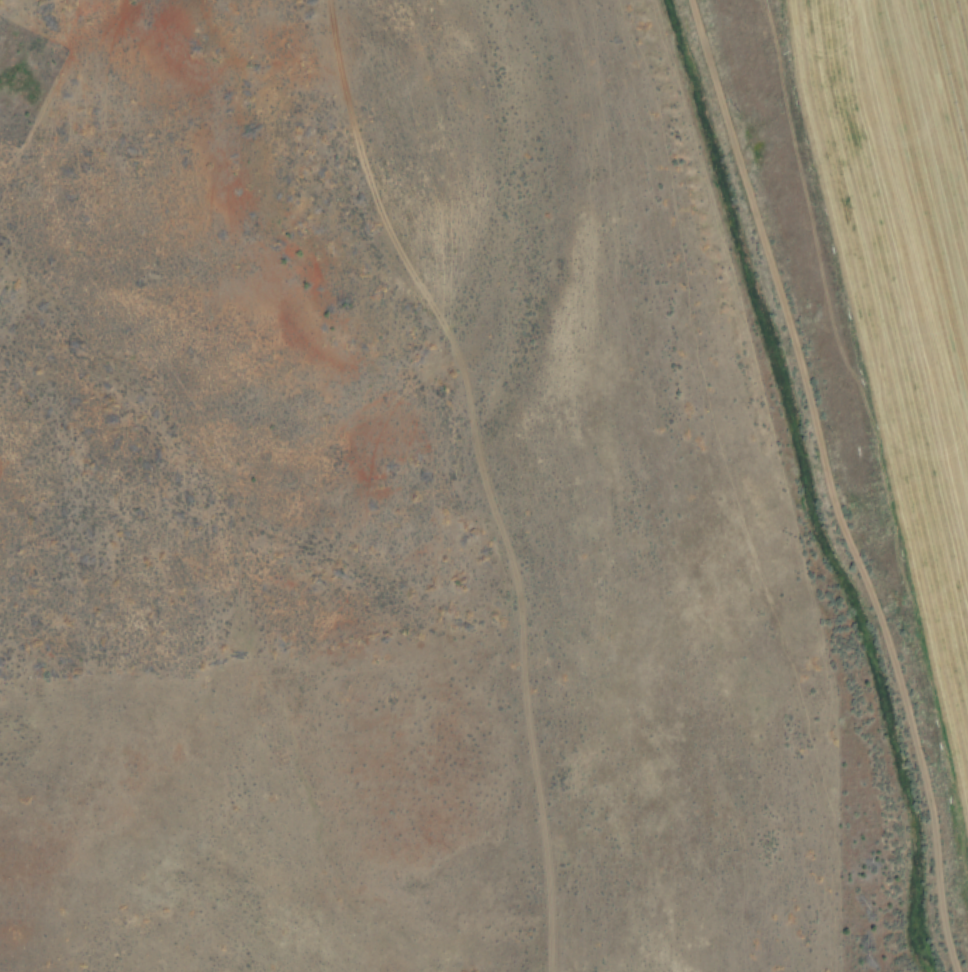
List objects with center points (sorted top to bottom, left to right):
crop: (877, 315)
road: (859, 390)

